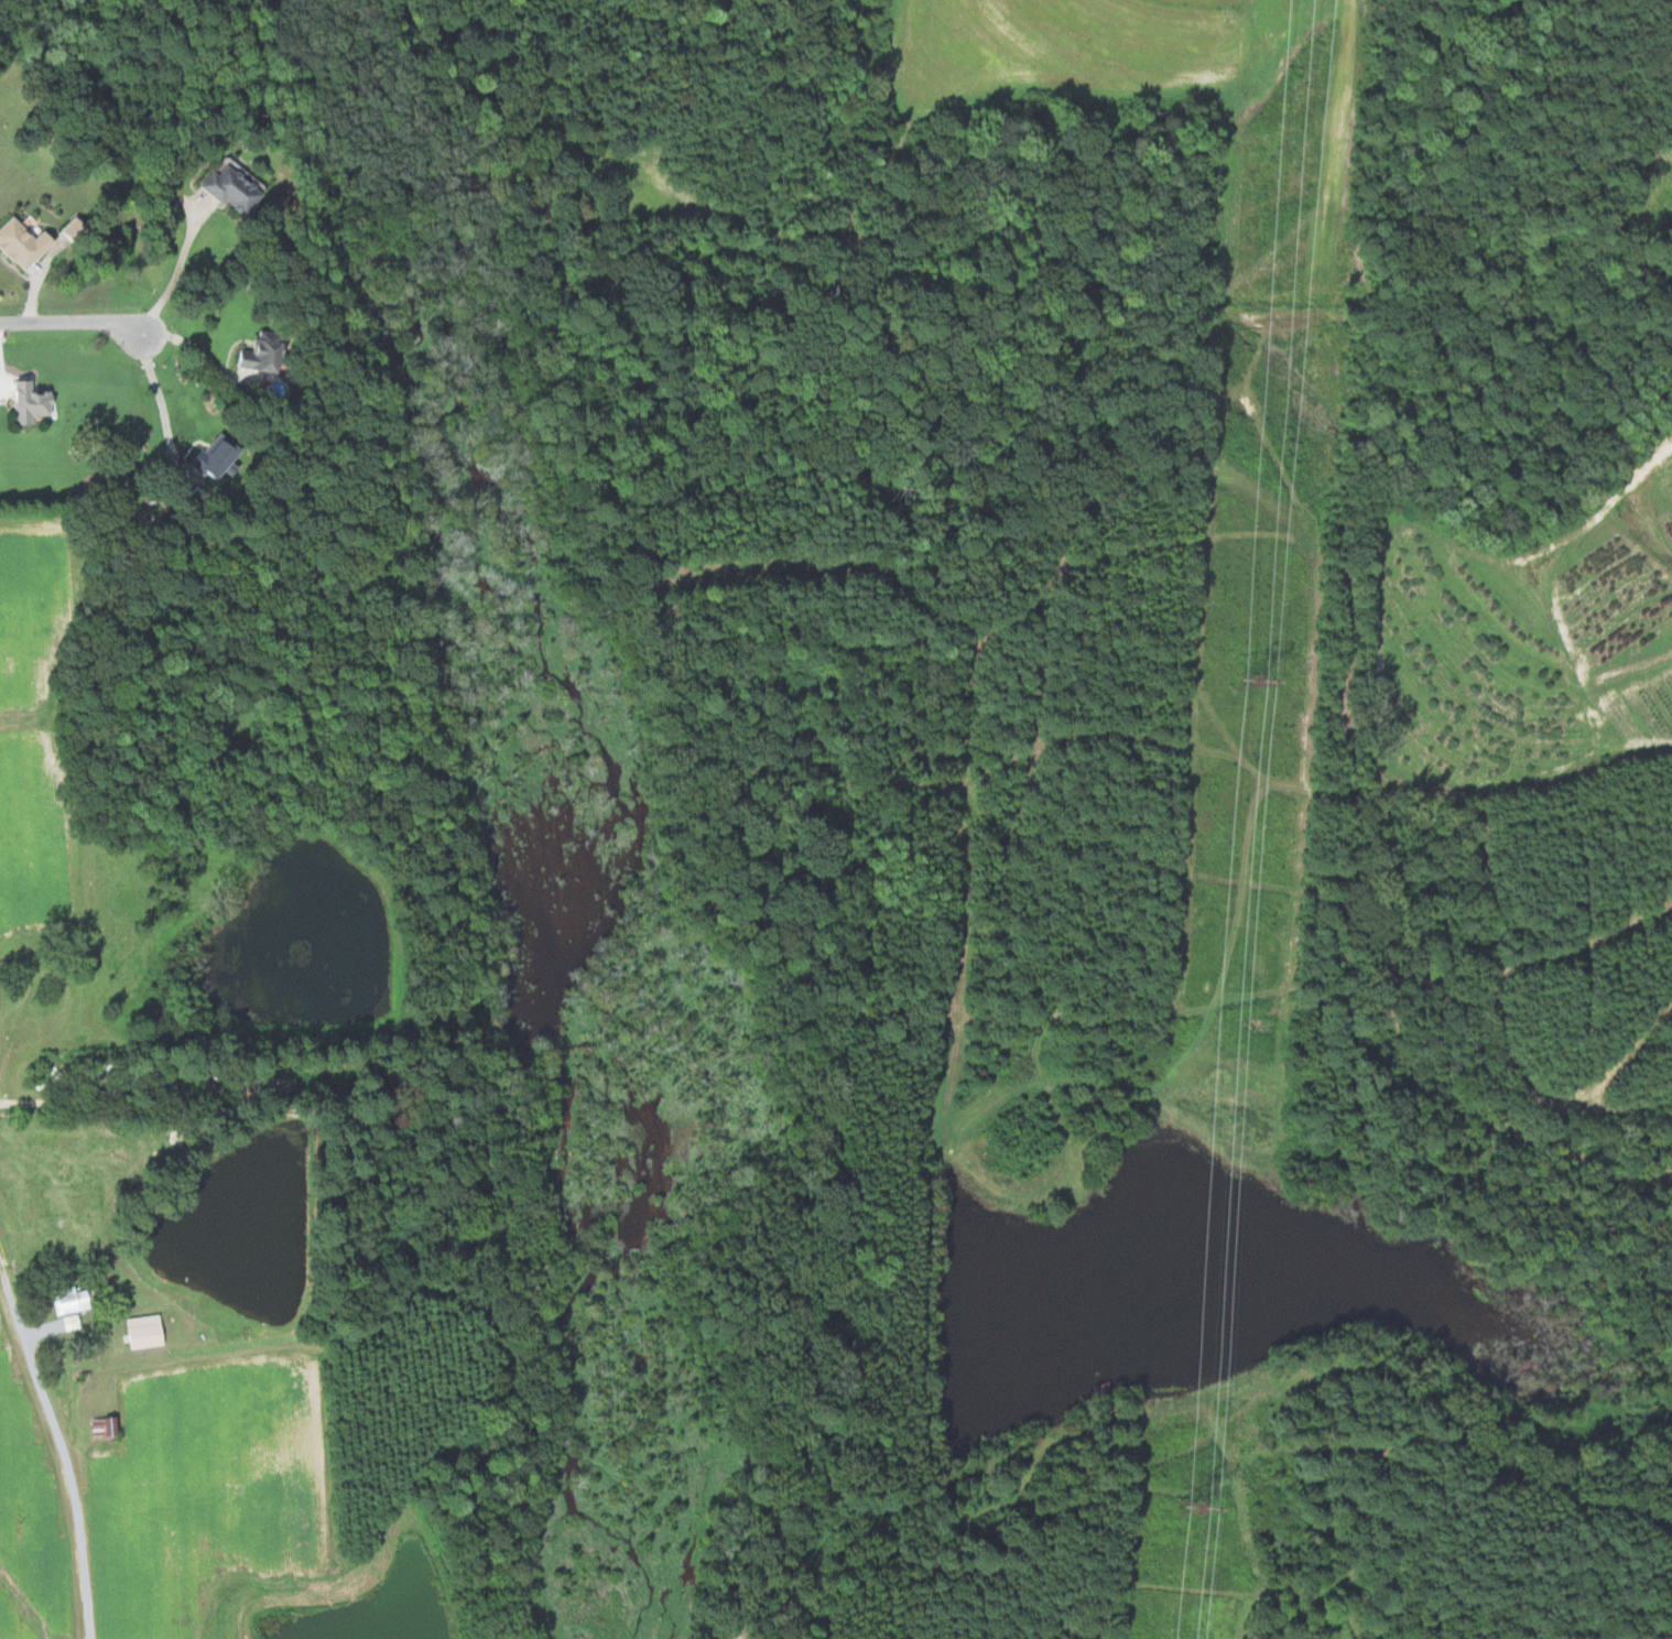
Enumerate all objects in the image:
building: (235, 189)
building: (25, 243)
road: (176, 273)
road: (73, 323)
building: (267, 352)
road: (203, 354)
road: (161, 400)
building: (33, 403)
power tower: (1251, 685)
road: (61, 1133)
building: (74, 1300)
building: (74, 1321)
building: (149, 1331)
building: (109, 1426)
road: (63, 1437)
power tower: (1191, 1507)

